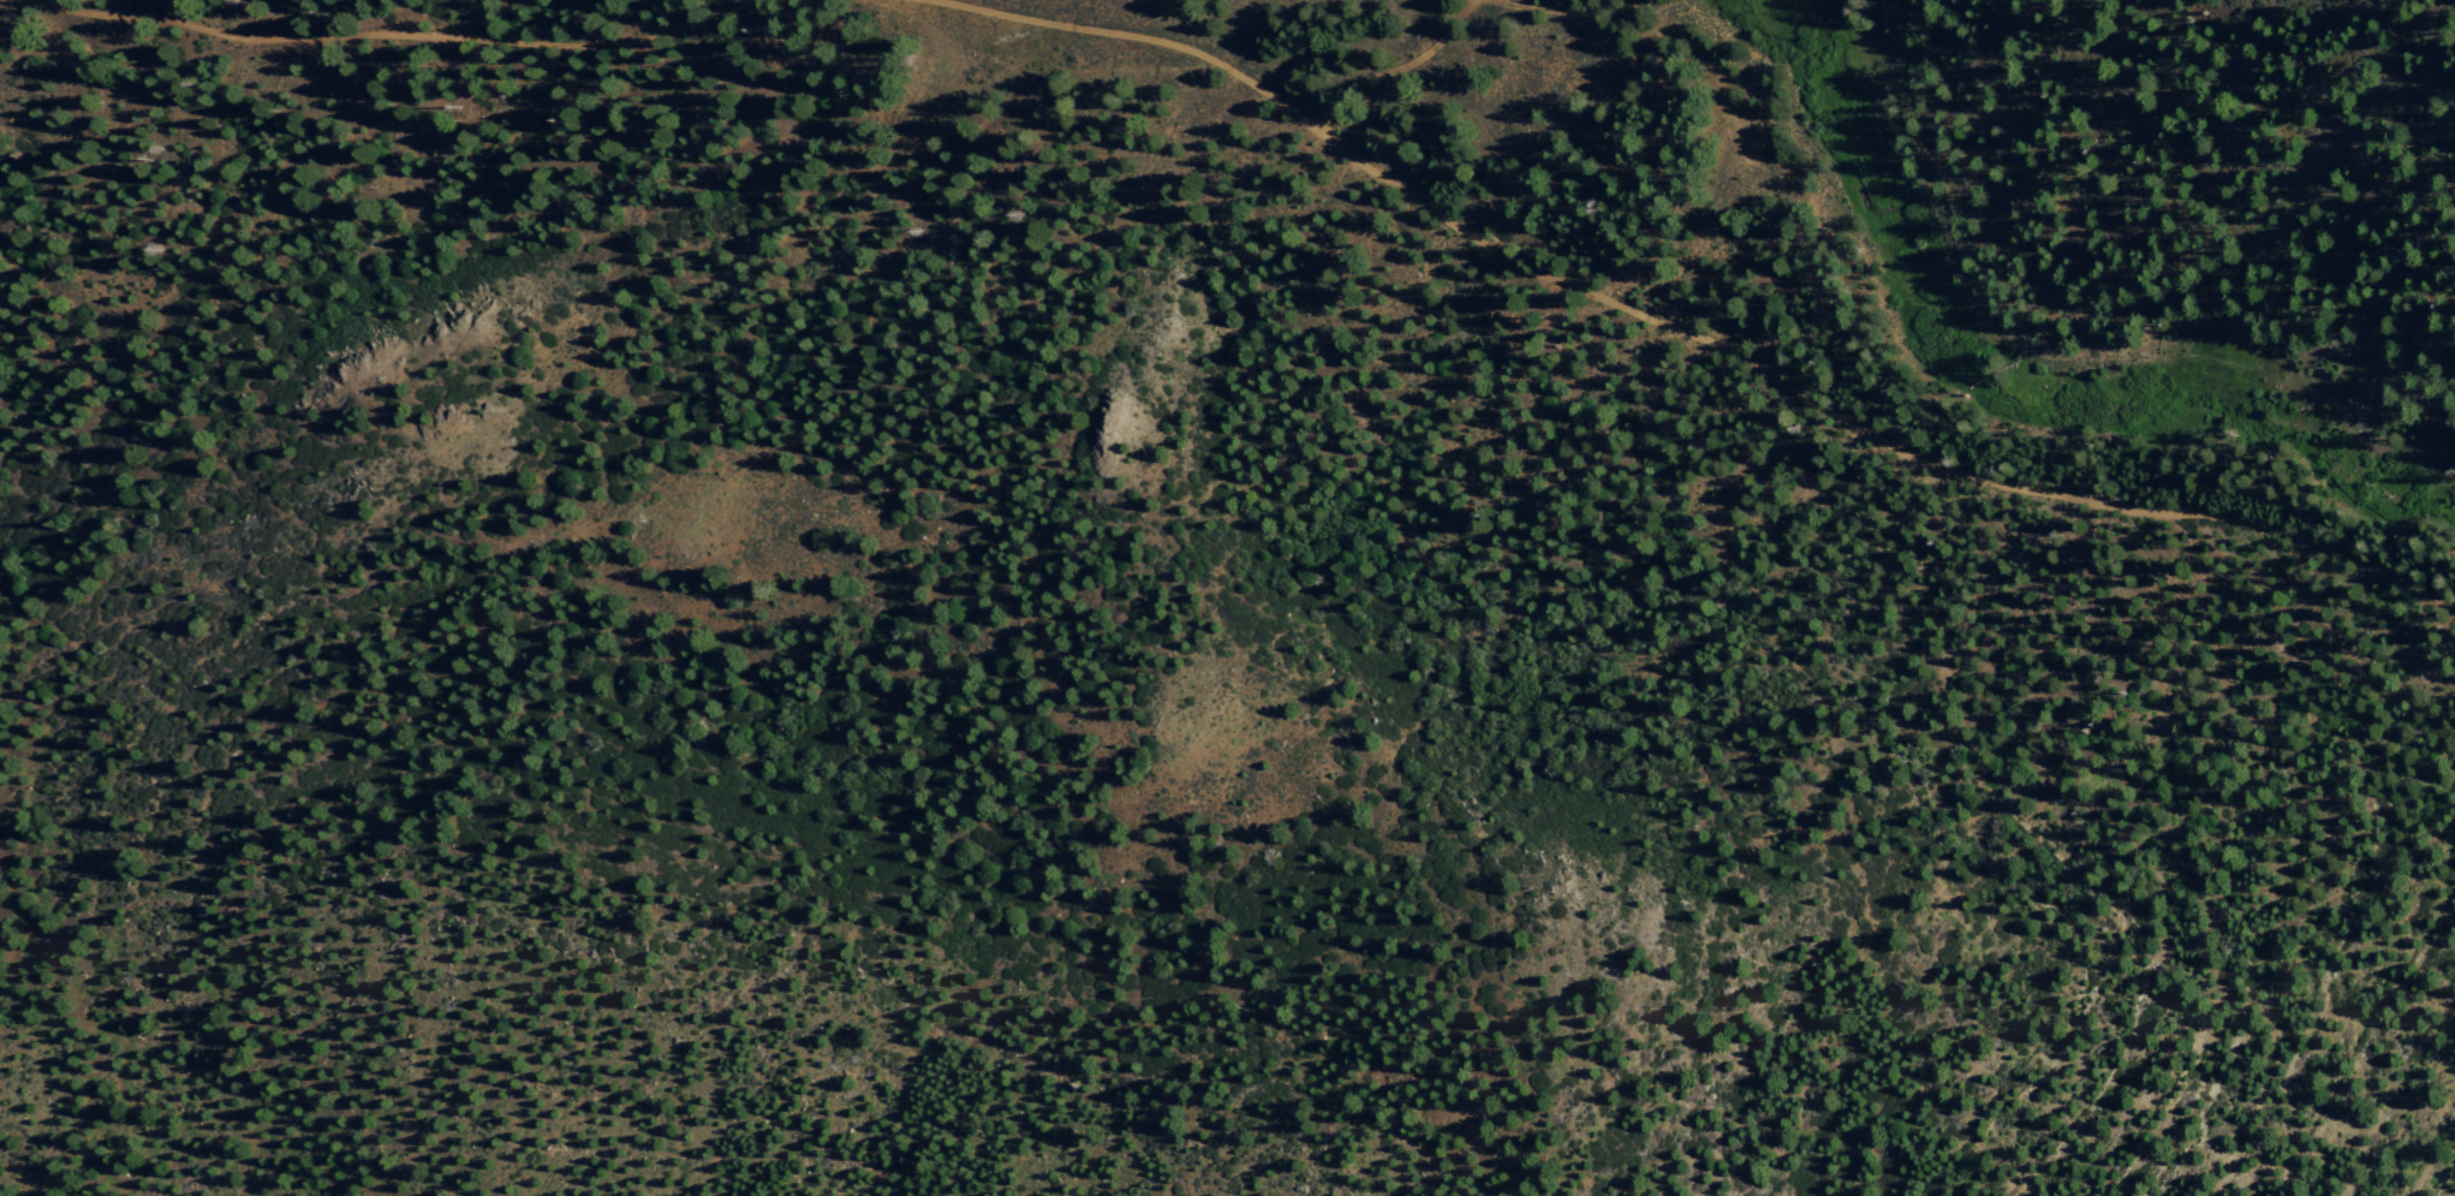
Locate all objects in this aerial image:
road: (391, 34)
road: (1686, 333)
road: (2432, 1160)

